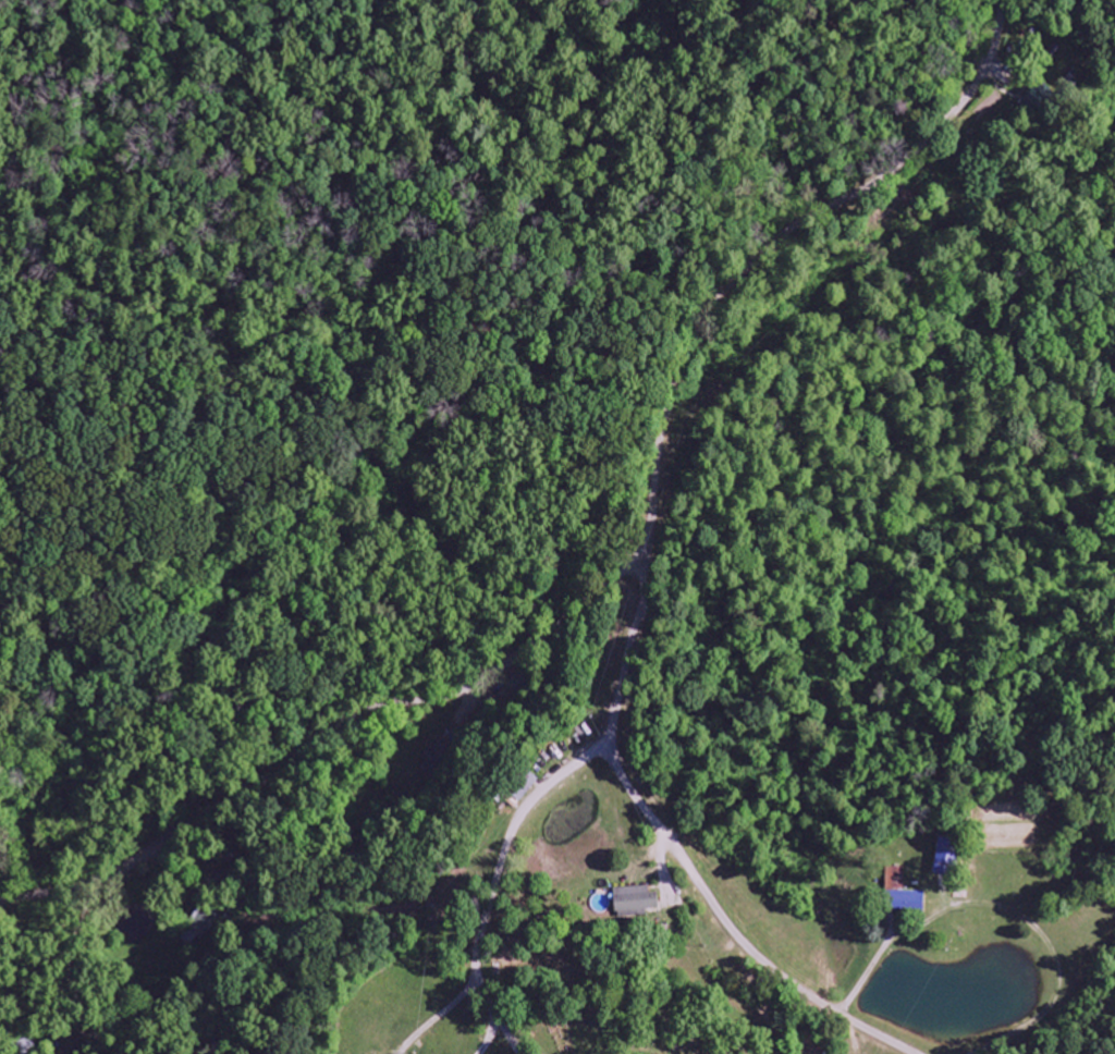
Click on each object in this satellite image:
road: (1001, 21)
building: (1038, 100)
road: (762, 258)
road: (321, 722)
building: (437, 759)
road: (673, 850)
building: (947, 857)
building: (895, 878)
road: (495, 879)
building: (636, 900)
building: (912, 902)
building: (200, 924)

